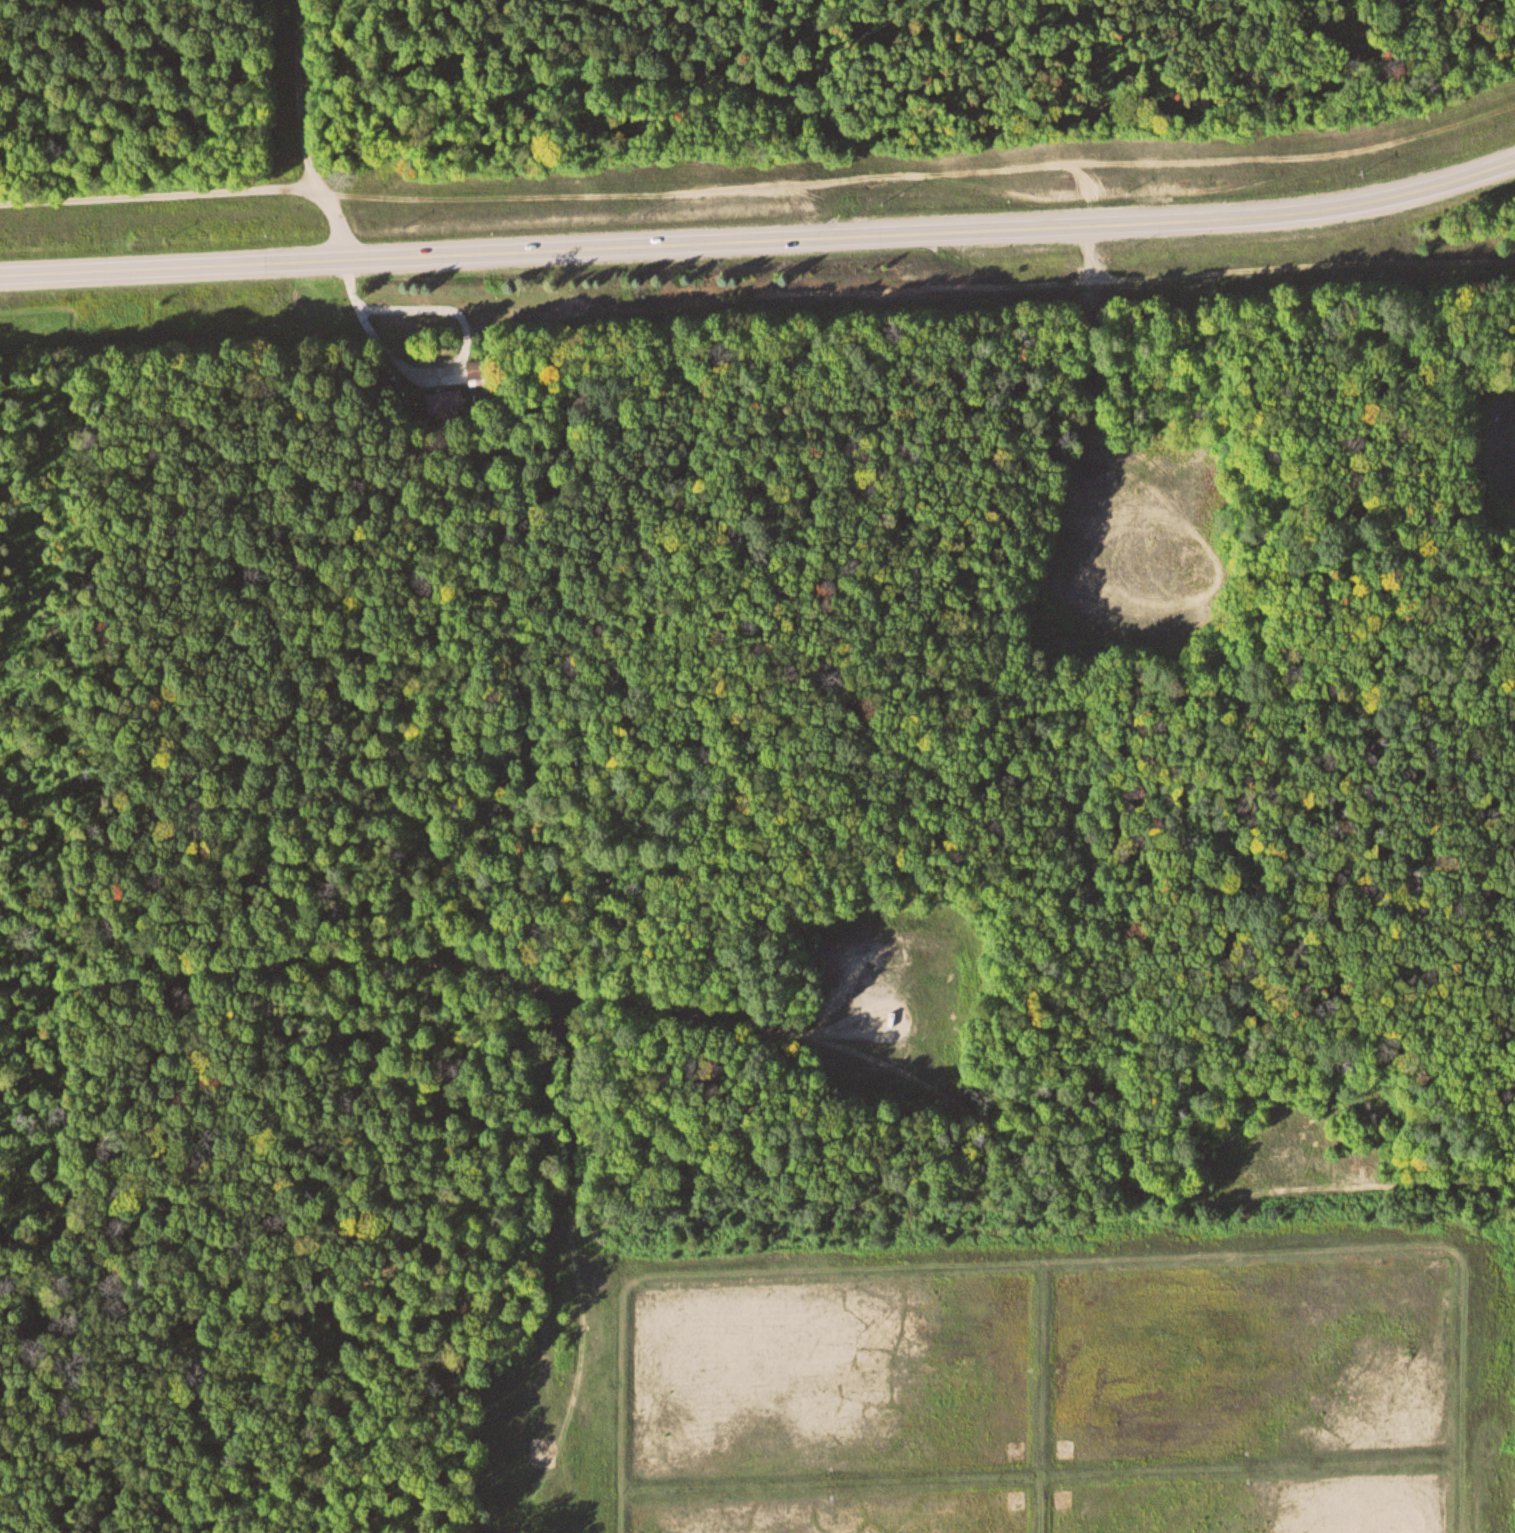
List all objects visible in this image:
road: (307, 137)
road: (159, 191)
road: (761, 246)
building: (440, 400)
road: (604, 981)
road: (1343, 1191)

